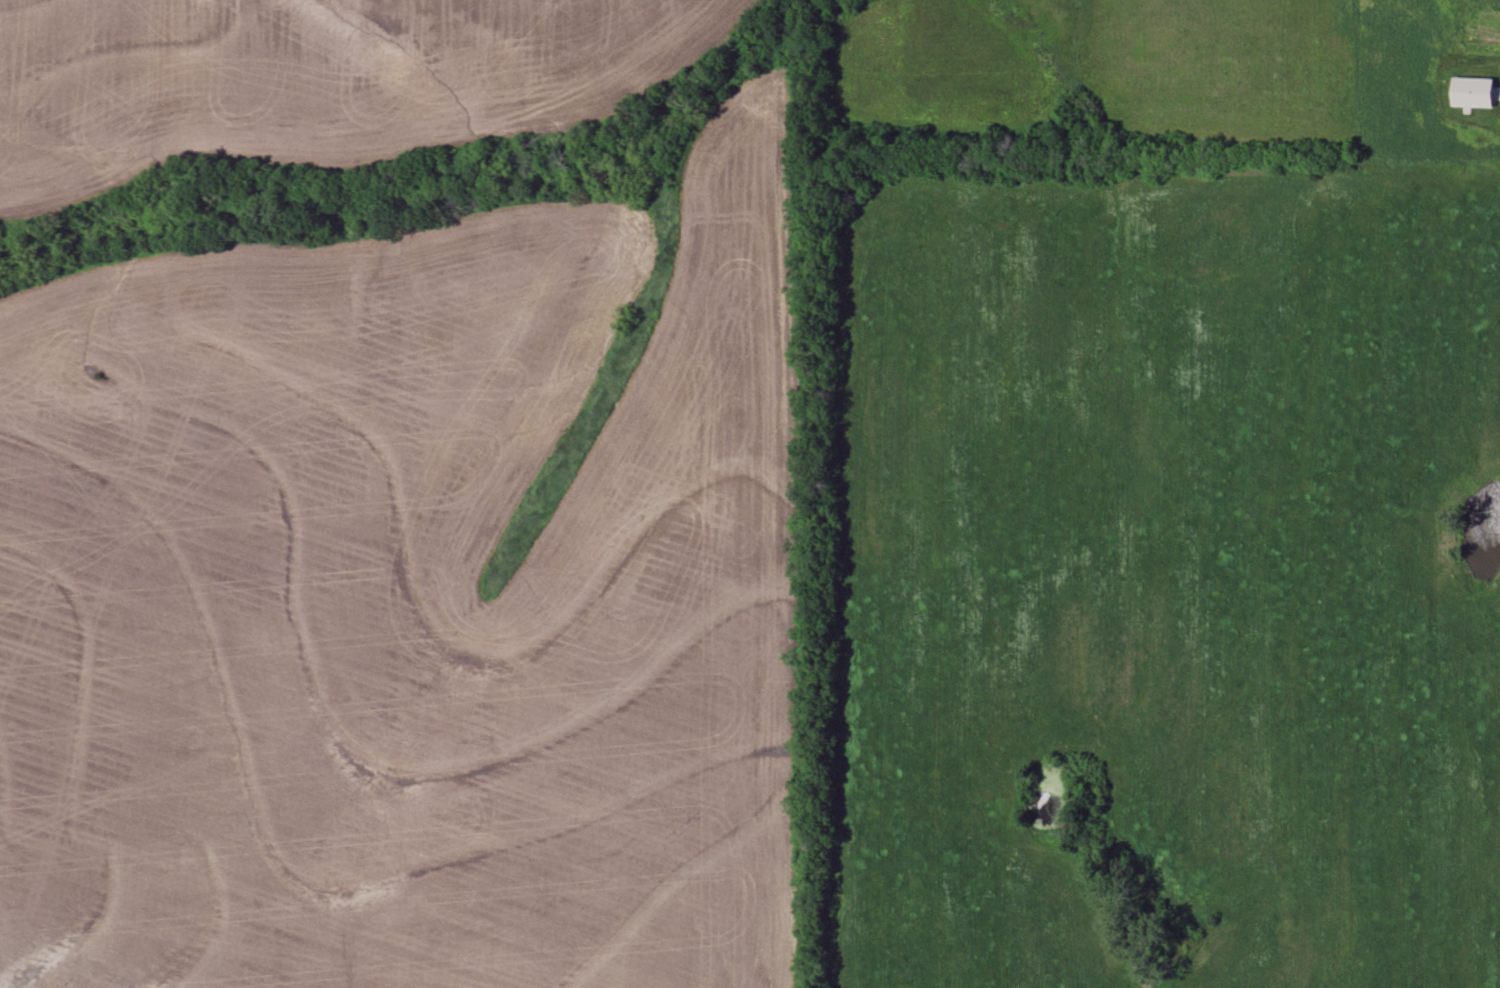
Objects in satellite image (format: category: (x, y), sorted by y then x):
building: (1488, 27)

